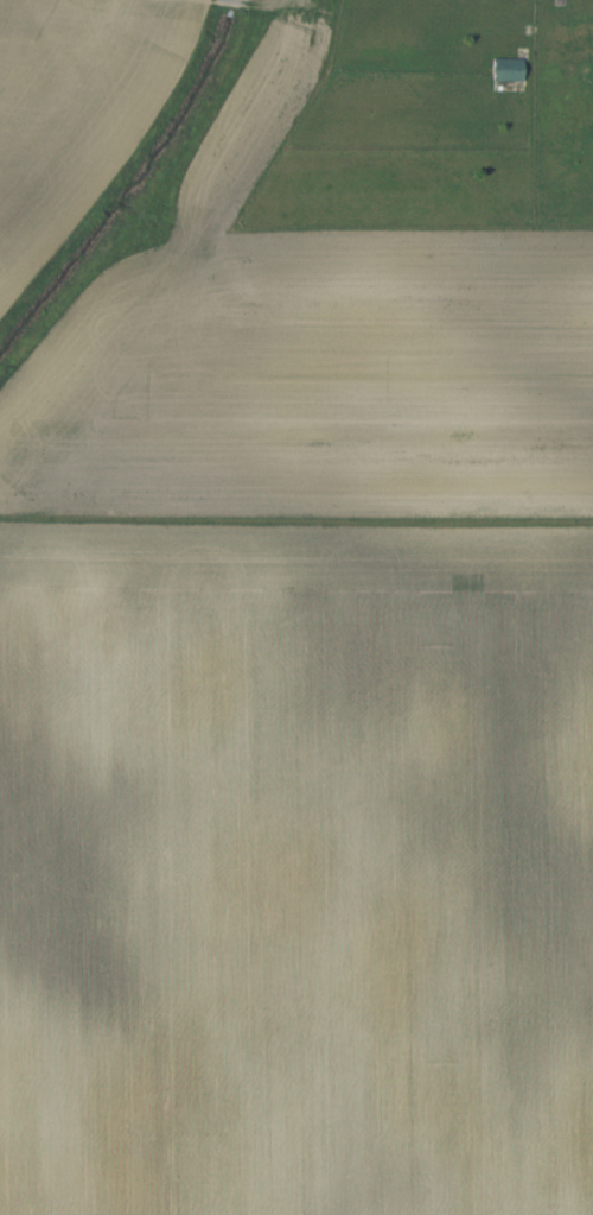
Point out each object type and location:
building: (503, 68)

